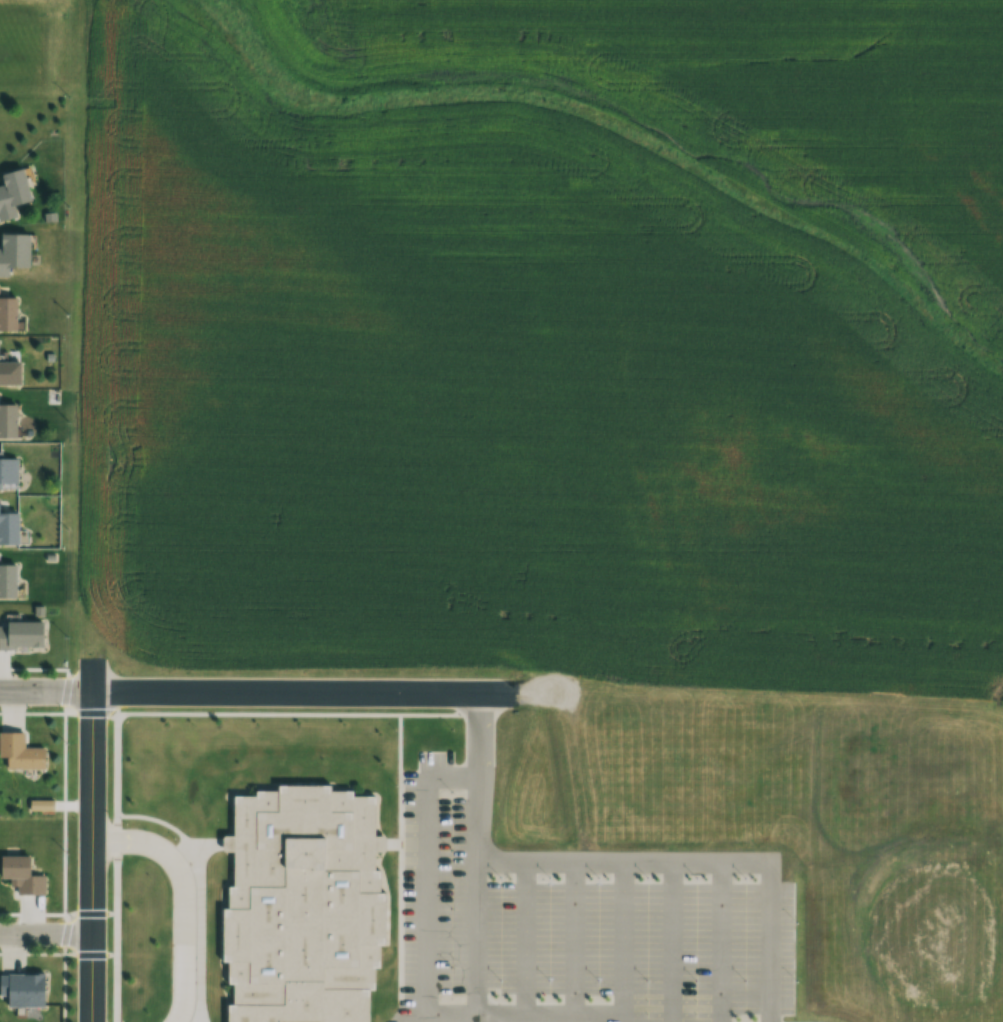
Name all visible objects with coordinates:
building: (11, 192)
building: (12, 252)
building: (6, 313)
building: (9, 373)
building: (6, 421)
building: (8, 471)
building: (6, 581)
building: (19, 636)
road: (43, 691)
road: (279, 693)
building: (19, 753)
road: (86, 832)
road: (612, 864)
building: (21, 875)
road: (175, 896)
building: (295, 907)
parking lot: (574, 929)
road: (43, 934)
road: (419, 974)
building: (21, 990)

